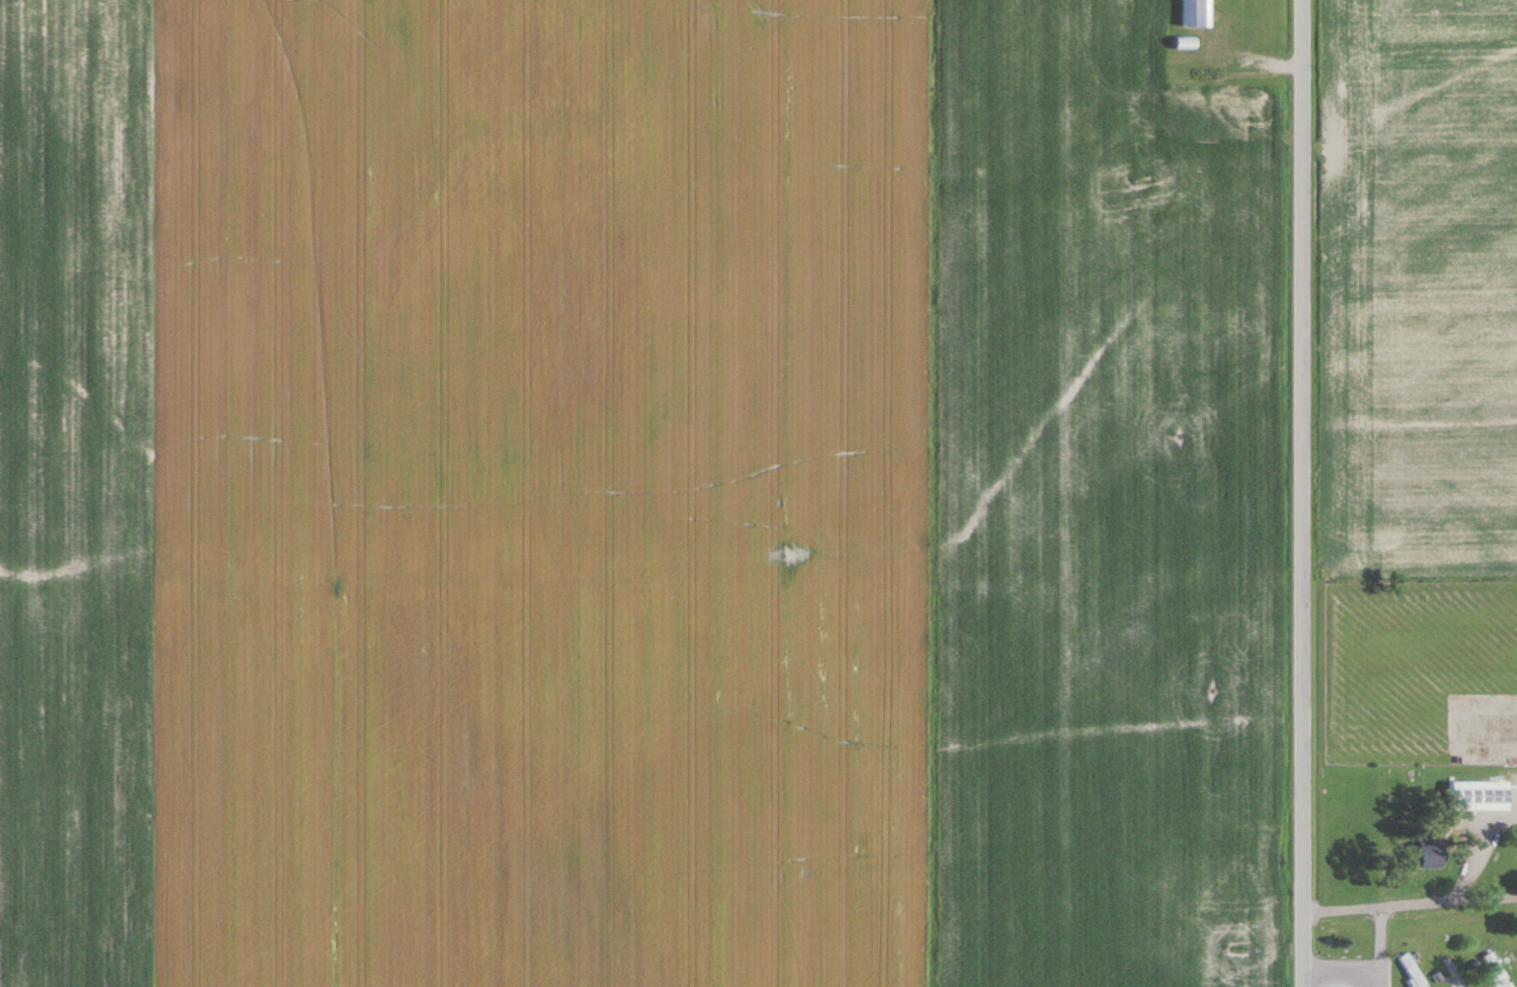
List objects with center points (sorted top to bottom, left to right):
building: (1196, 13)
building: (1185, 43)
road: (1297, 493)
building: (1478, 795)
road: (1472, 848)
building: (1431, 855)
road: (1484, 899)
road: (1375, 908)
road: (1380, 941)
building: (1498, 969)
building: (1414, 970)
building: (1455, 970)
road: (1337, 974)
road: (1376, 981)

